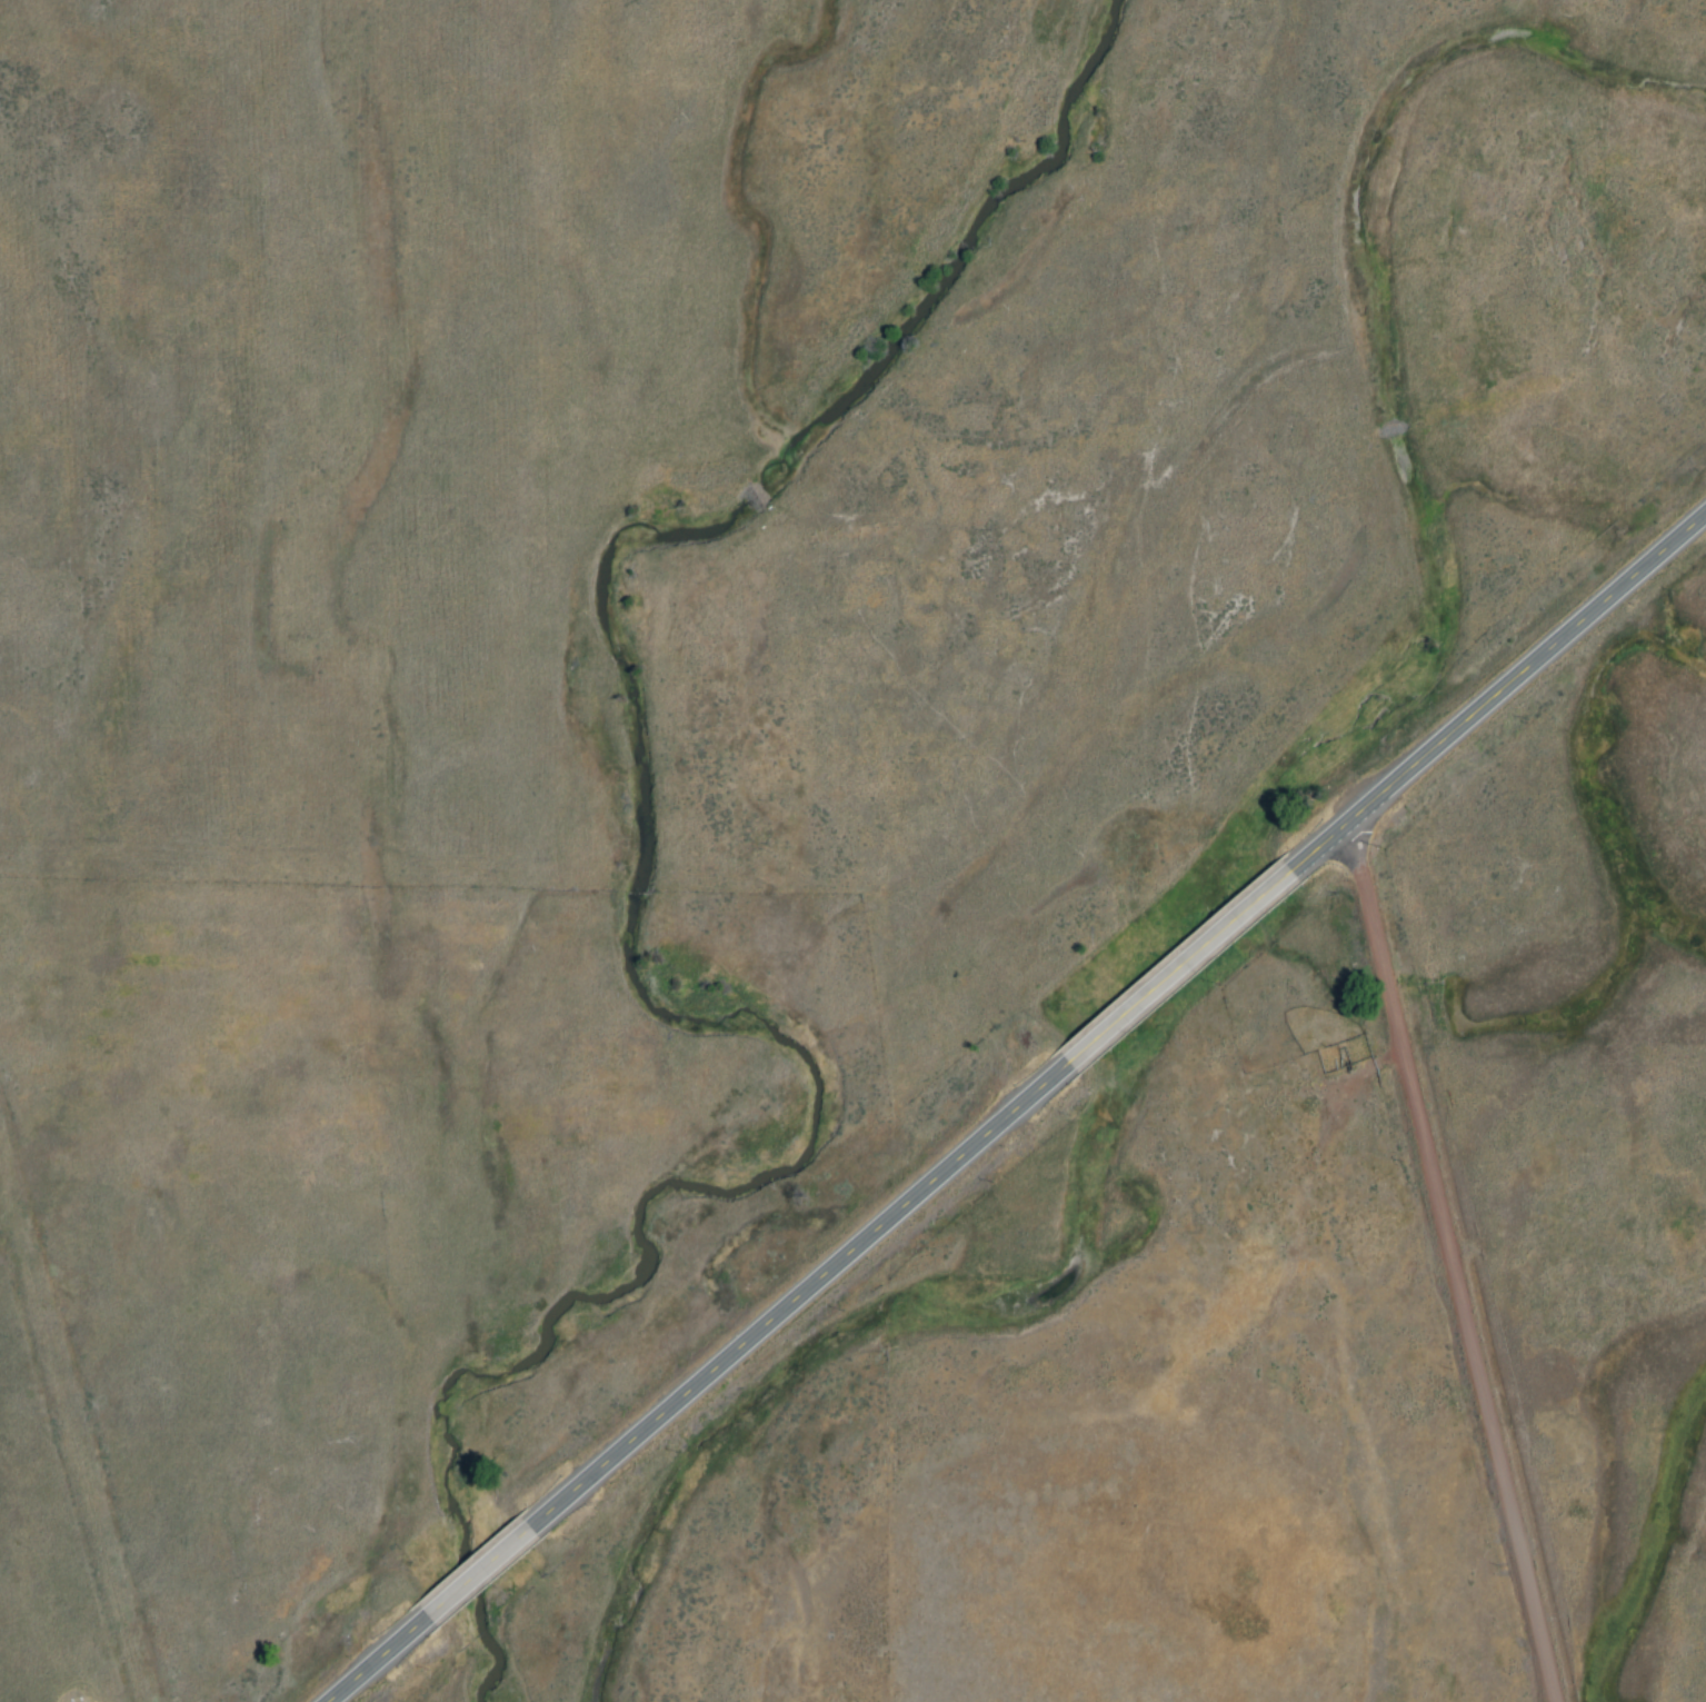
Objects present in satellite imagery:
road: (1502, 695)
road: (1180, 968)
road: (1380, 1058)
road: (1463, 1257)
road: (800, 1298)
road: (68, 1485)
road: (478, 1574)
road: (375, 1662)

